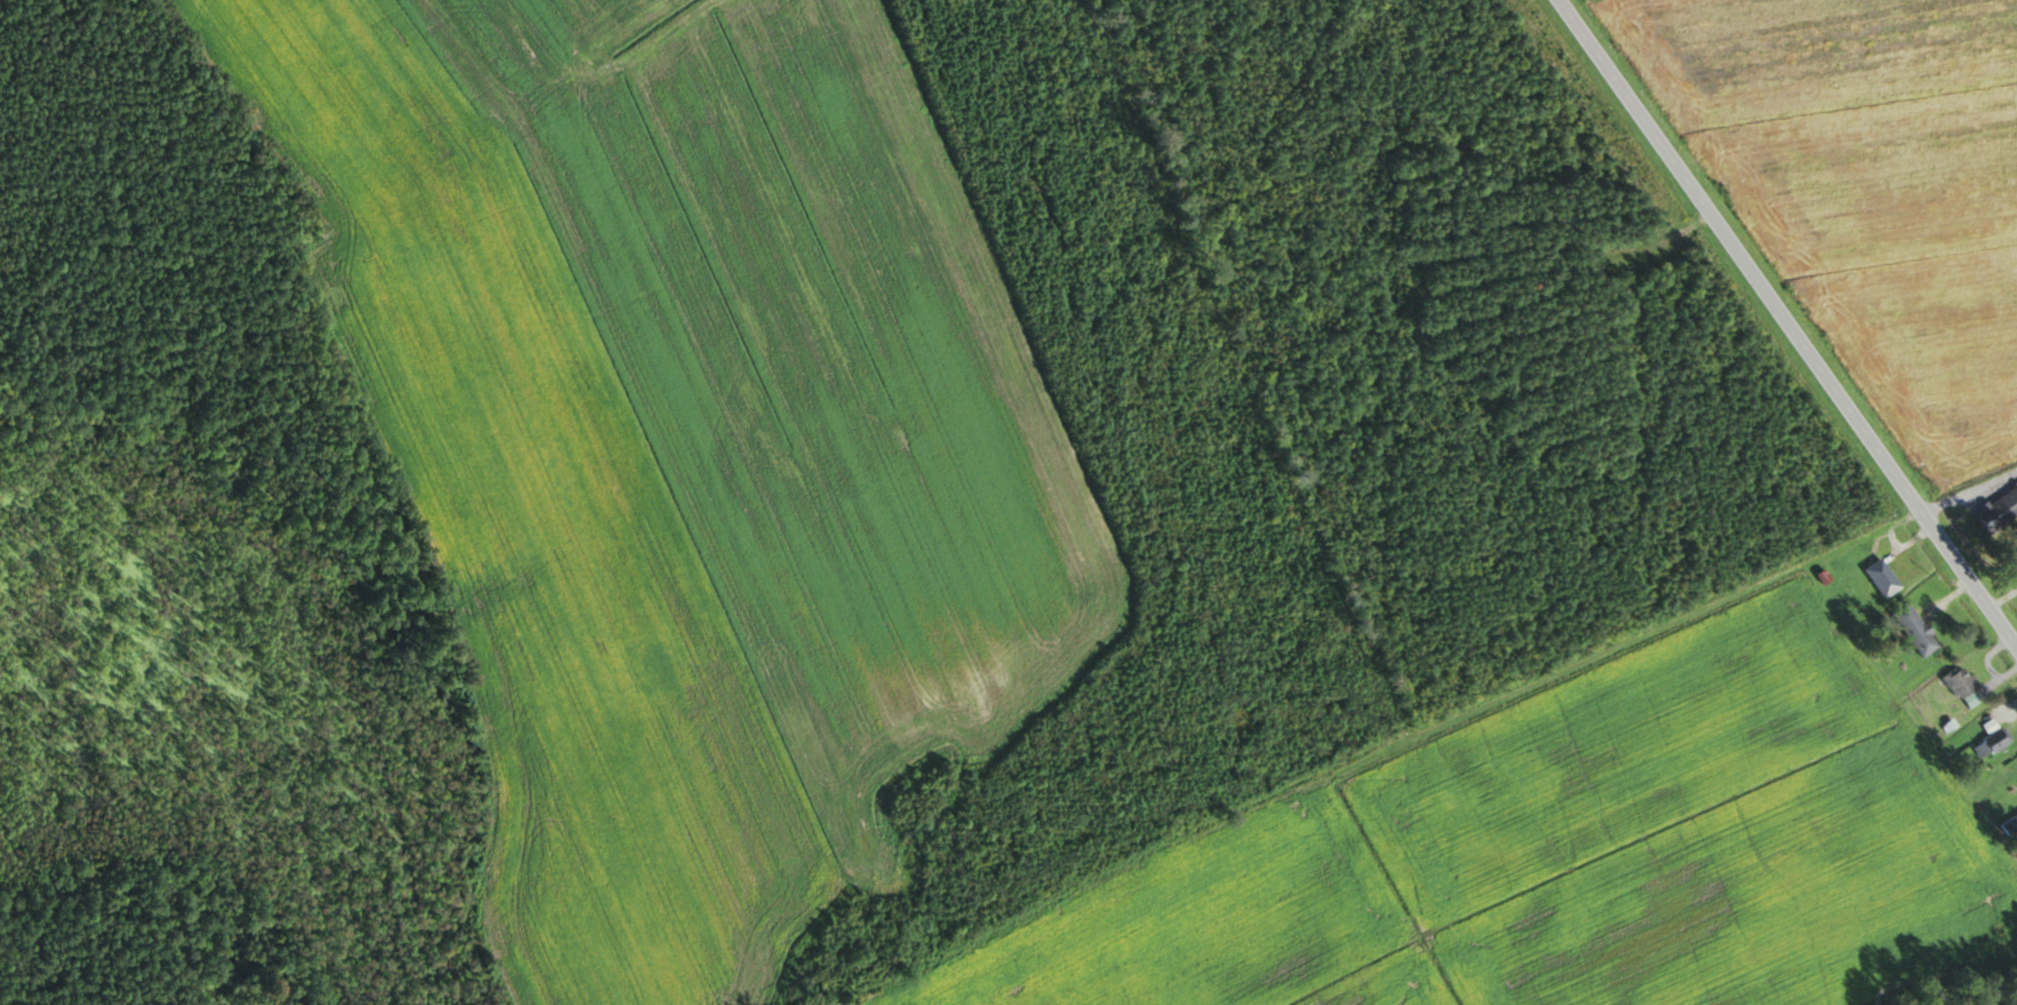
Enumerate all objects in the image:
road: (1786, 326)
building: (1996, 508)
building: (2016, 551)
building: (1877, 578)
building: (1910, 630)
building: (1955, 682)
building: (1988, 743)
building: (2016, 912)

